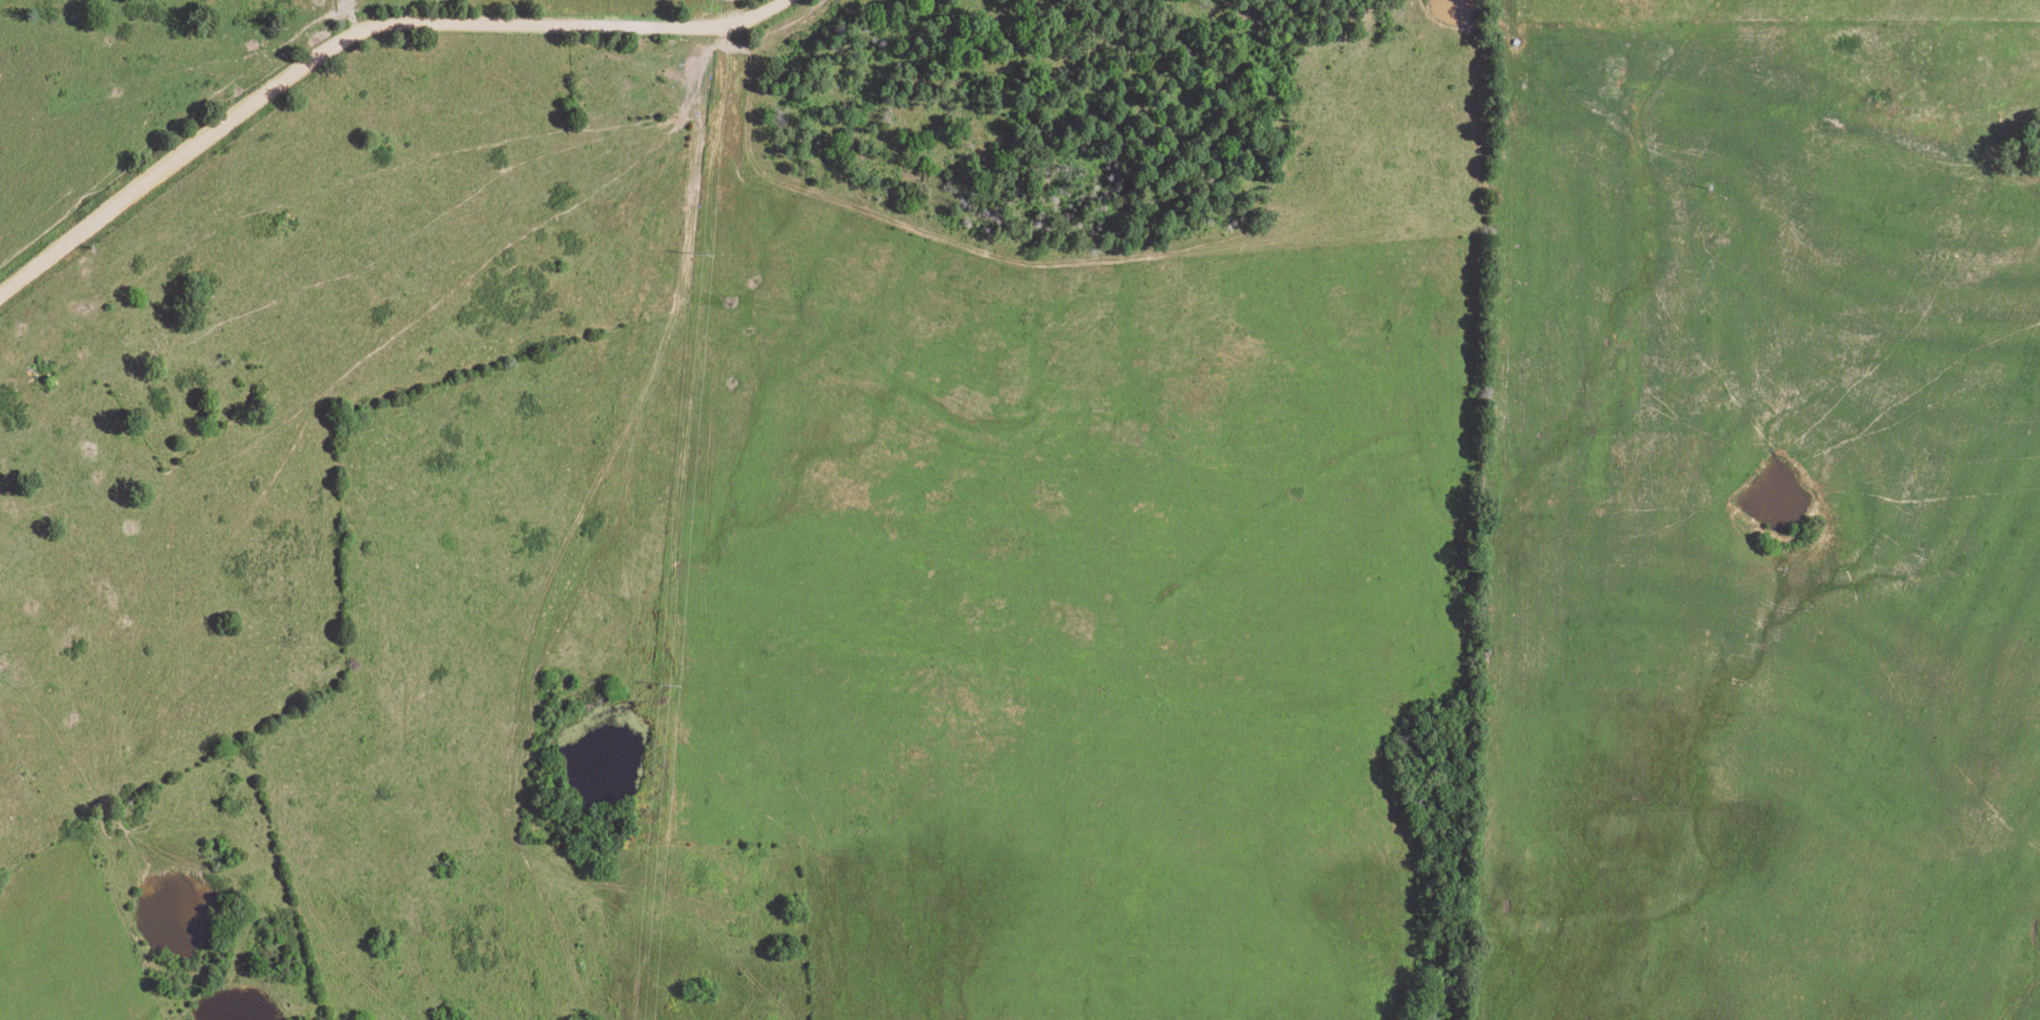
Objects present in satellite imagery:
road: (552, 27)
road: (165, 165)

